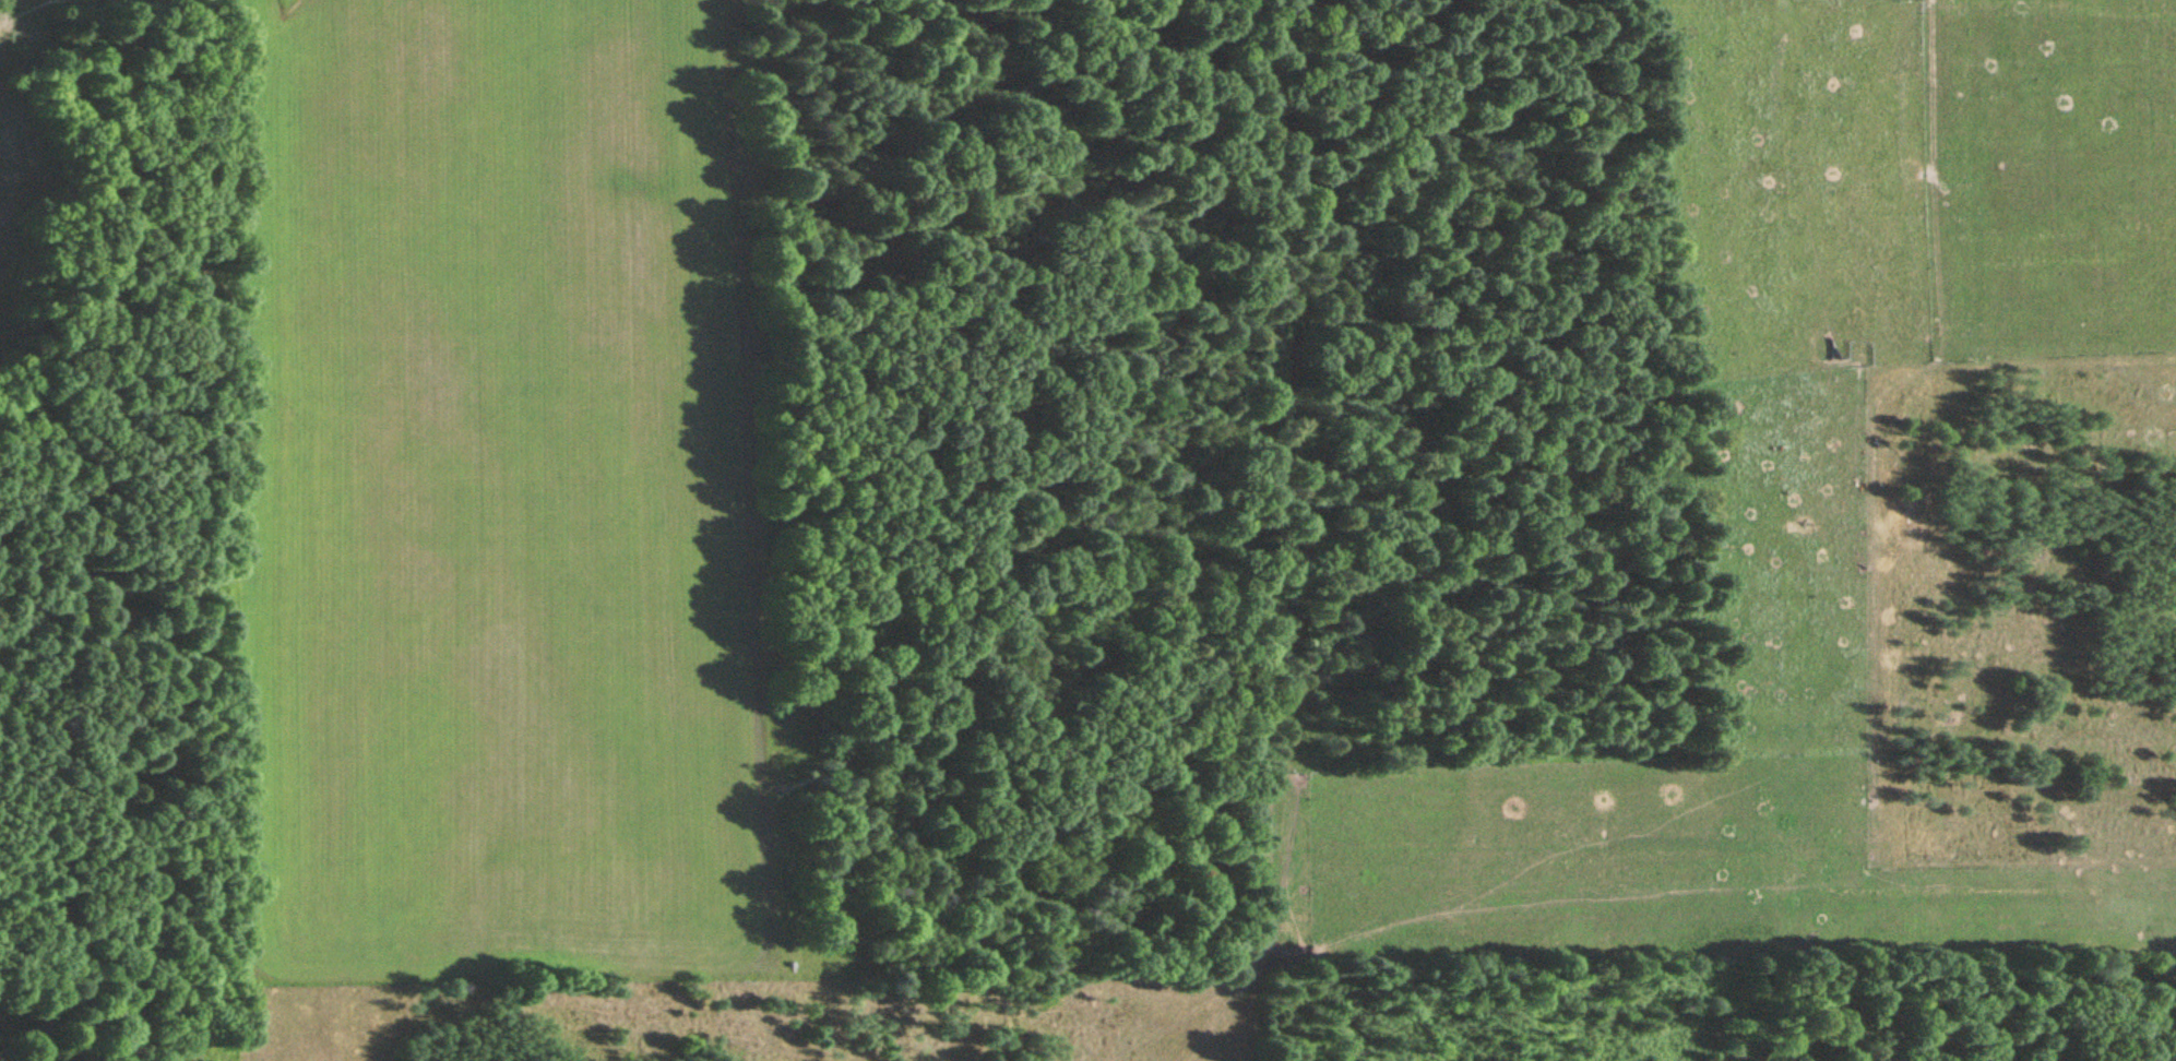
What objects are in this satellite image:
crop: (495, 493)

